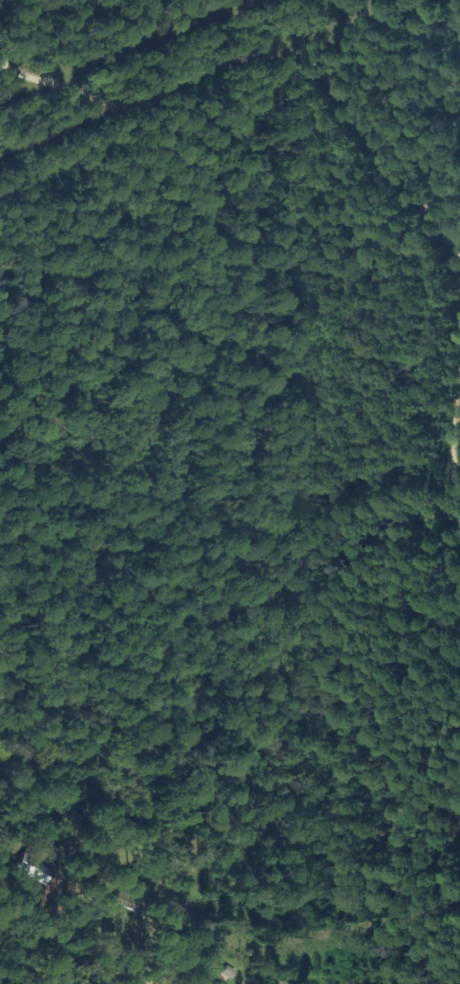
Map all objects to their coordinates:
road: (128, 117)
road: (367, 180)
road: (433, 532)
building: (134, 895)
road: (20, 963)

